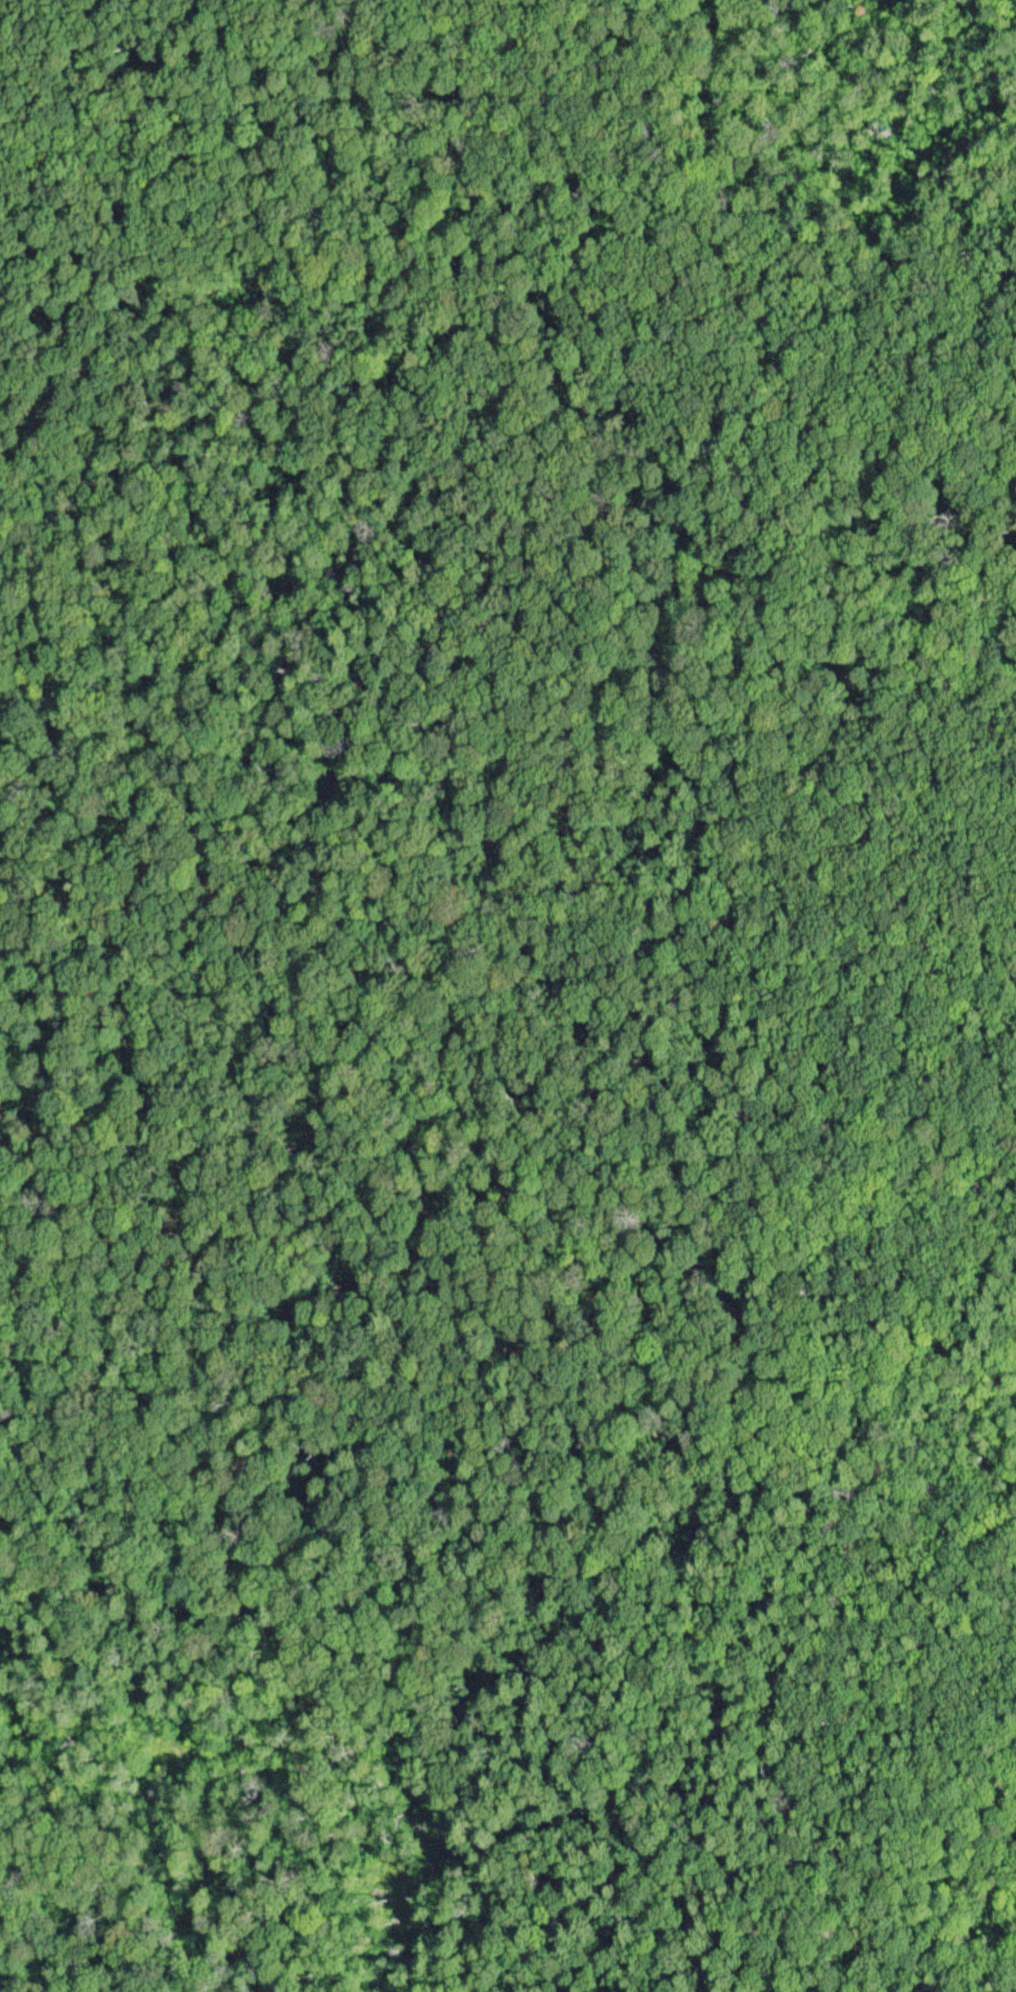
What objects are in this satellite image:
road: (505, 1164)

